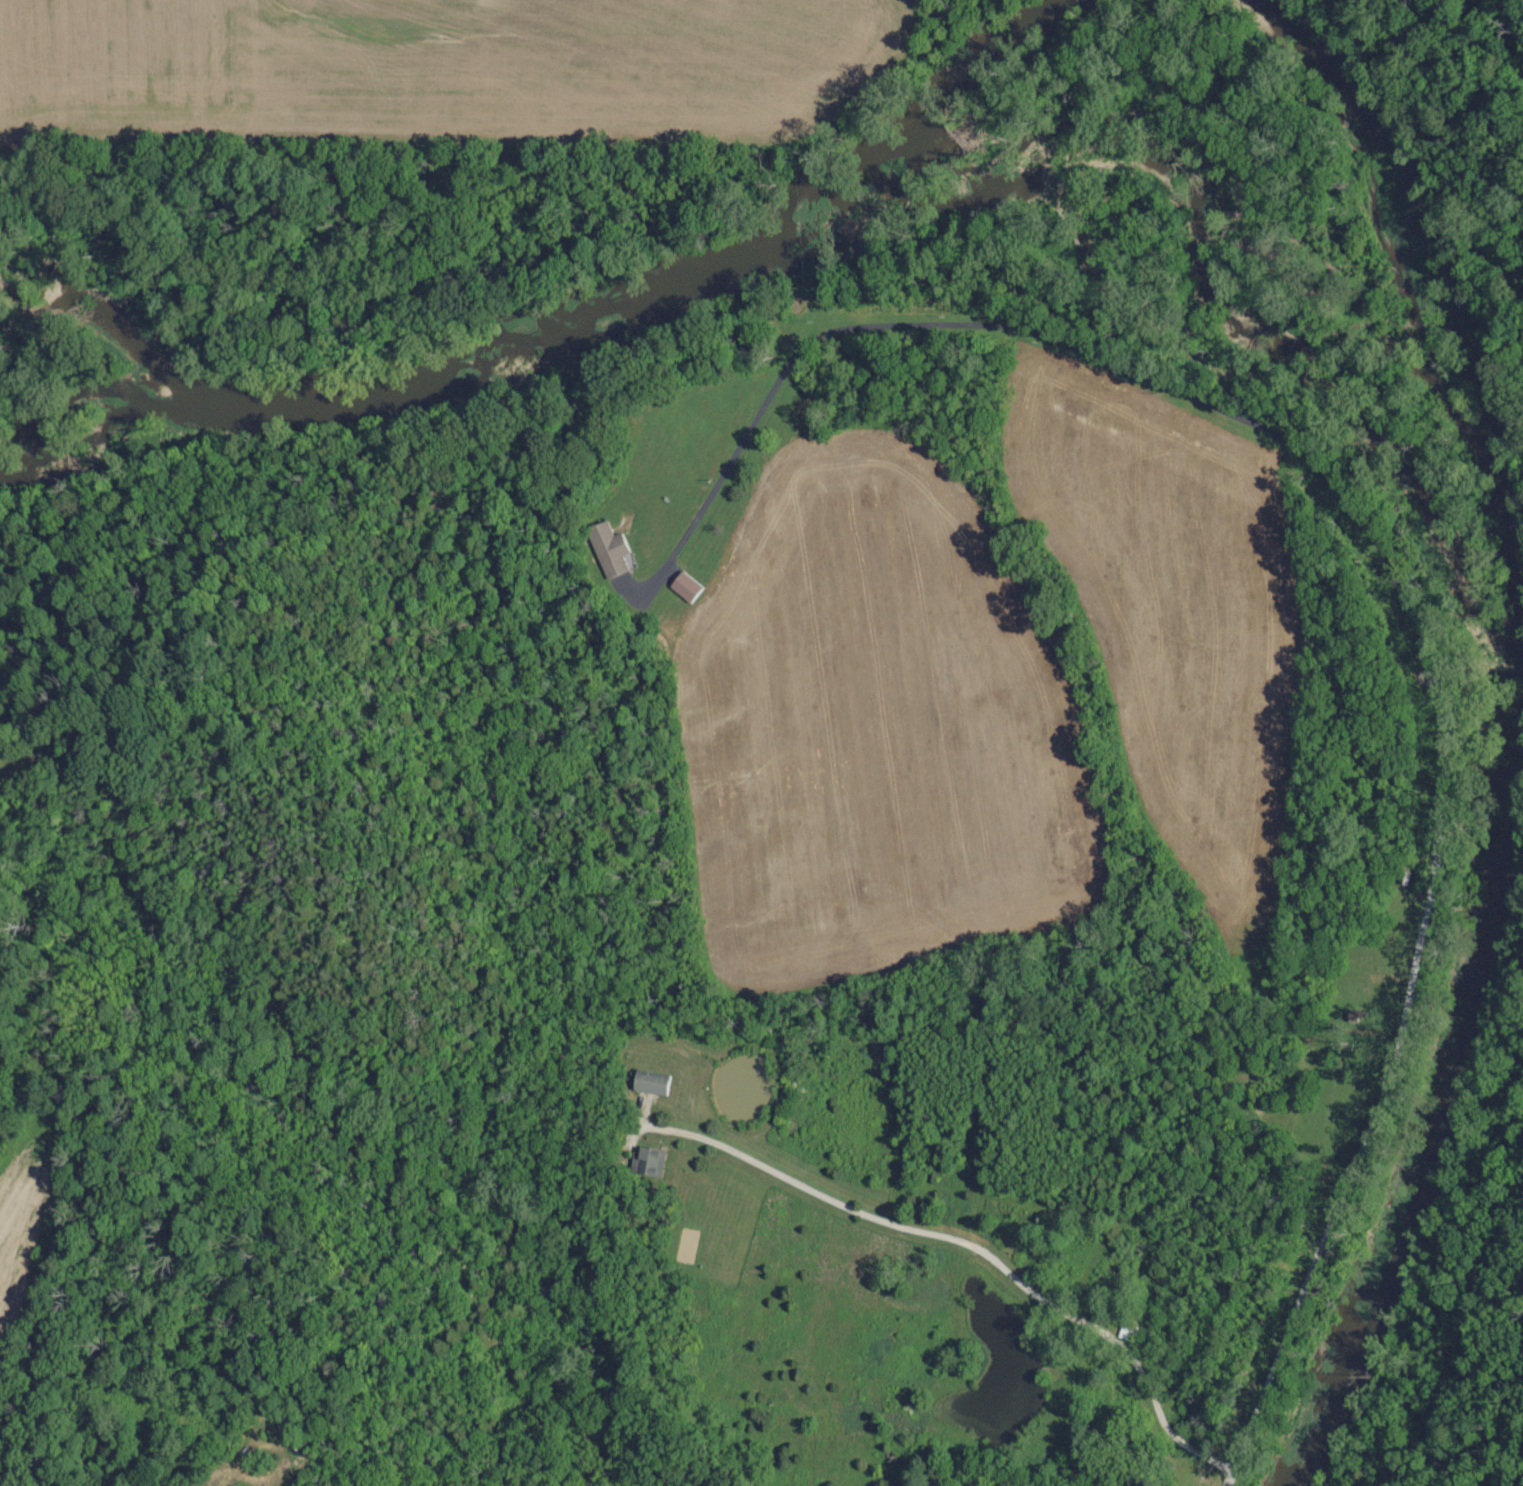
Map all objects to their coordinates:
building: (611, 550)
building: (687, 587)
road: (1437, 722)
building: (653, 1083)
building: (650, 1163)
building: (234, 1485)

